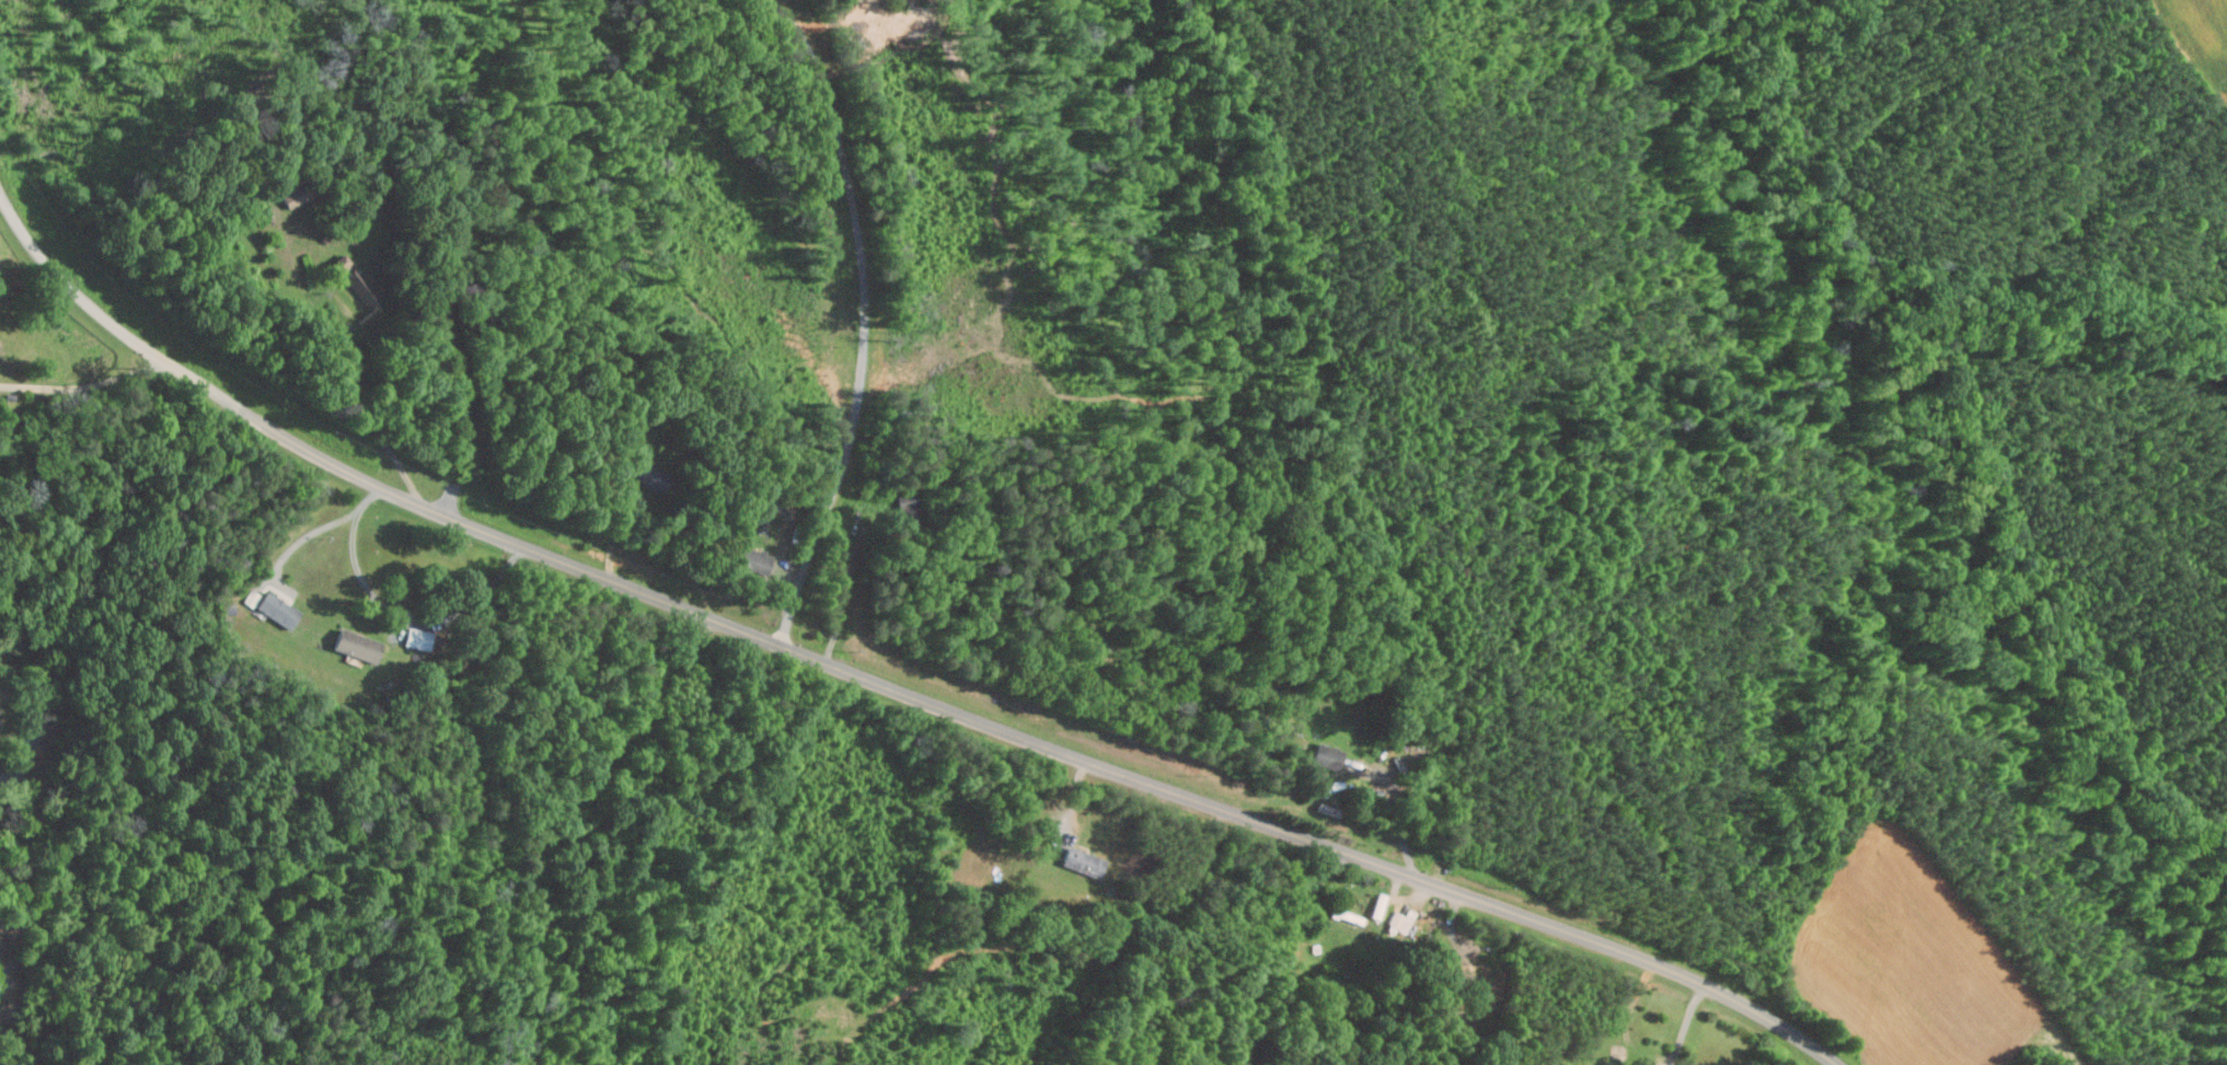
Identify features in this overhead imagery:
road: (801, 33)
building: (287, 189)
road: (105, 317)
road: (859, 362)
road: (82, 385)
road: (371, 417)
building: (651, 475)
road: (323, 526)
road: (618, 530)
building: (752, 559)
road: (357, 567)
road: (846, 592)
building: (275, 609)
building: (416, 637)
building: (355, 644)
road: (1482, 682)
road: (1036, 745)
building: (1326, 755)
road: (1804, 795)
road: (1401, 820)
building: (1082, 861)
building: (1399, 921)
road: (1686, 1025)

